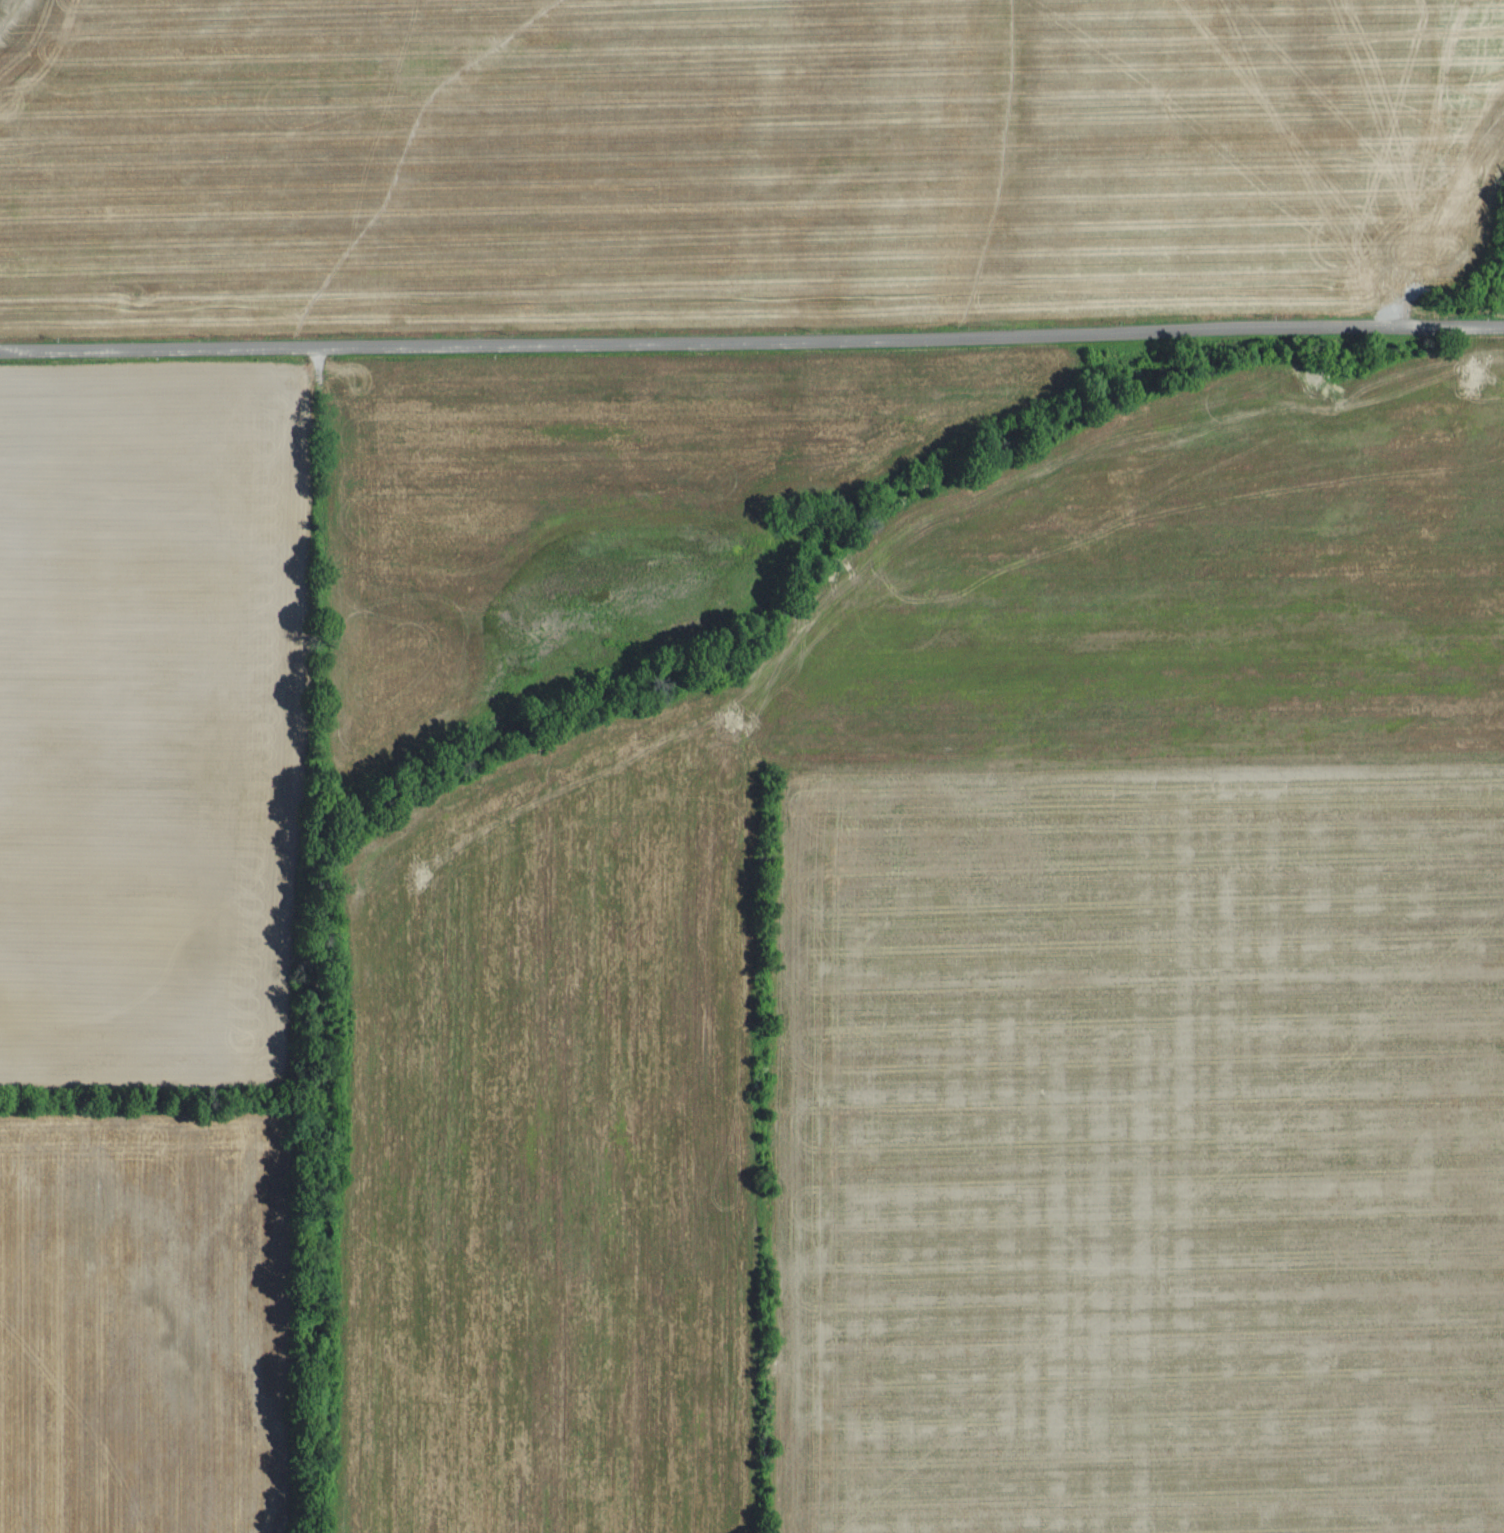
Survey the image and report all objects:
road: (752, 340)

